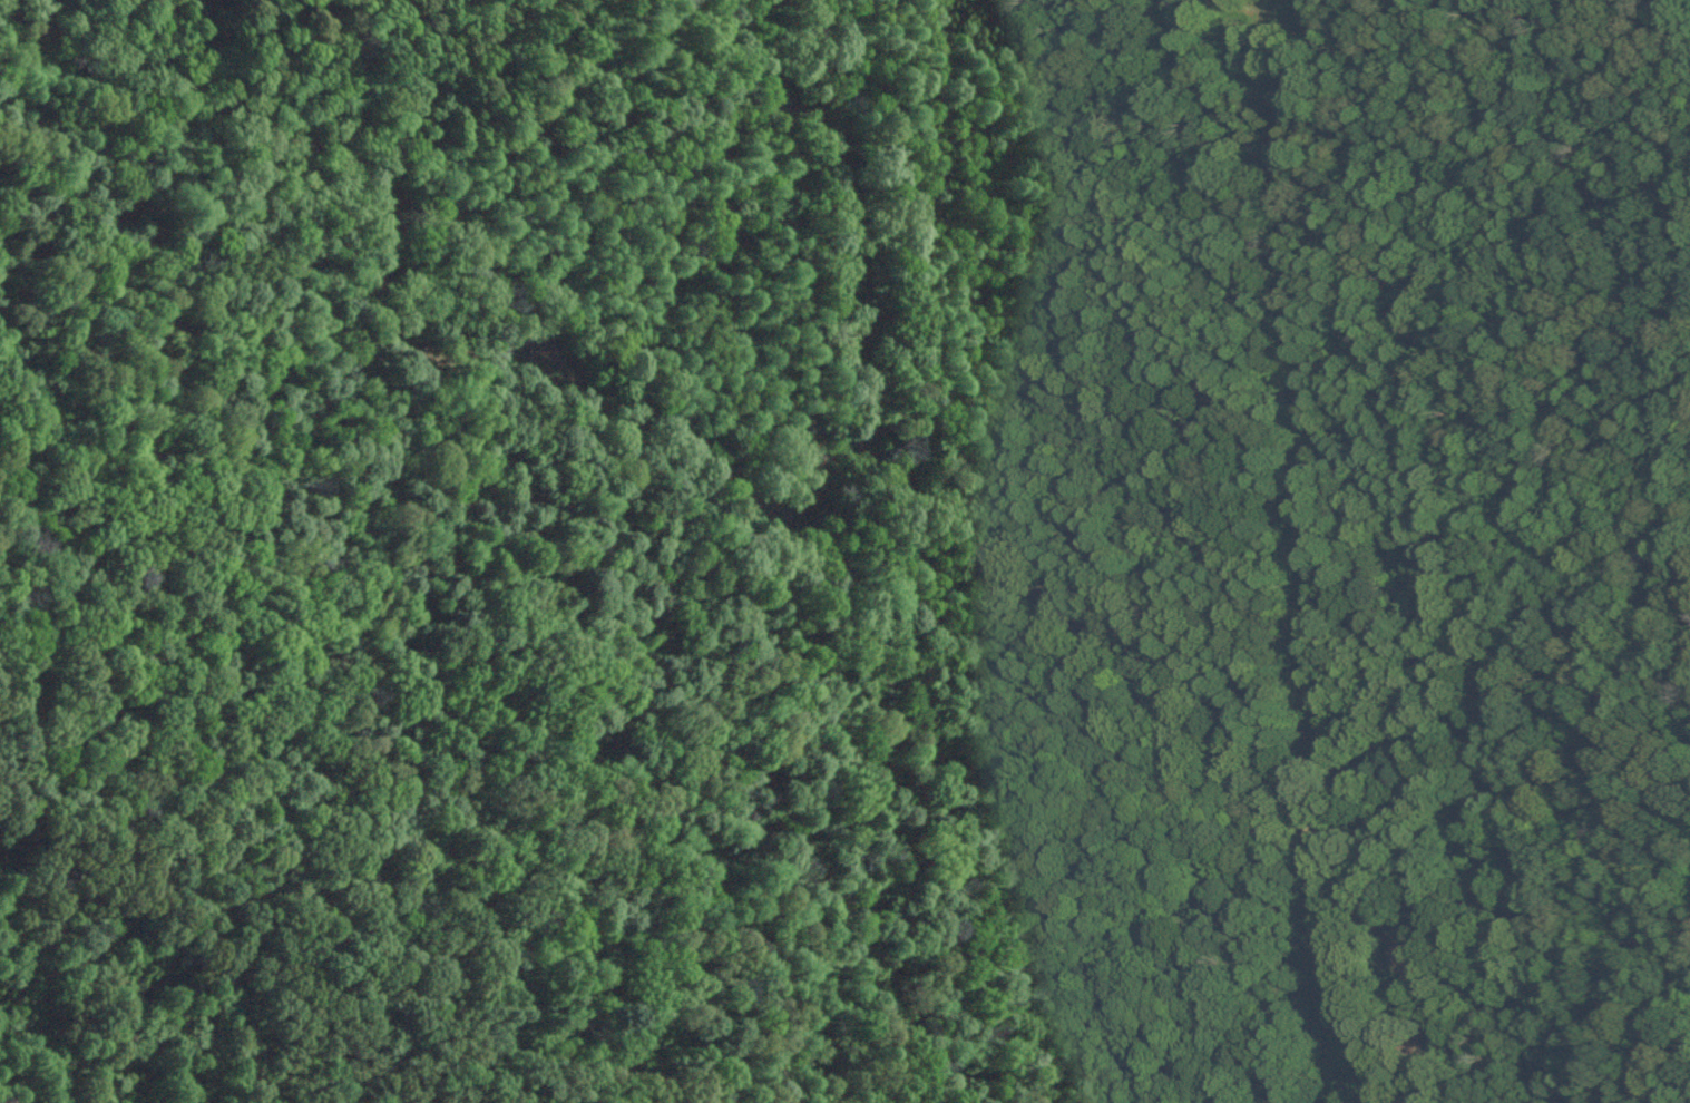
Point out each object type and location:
road: (1462, 509)
road: (1652, 638)

